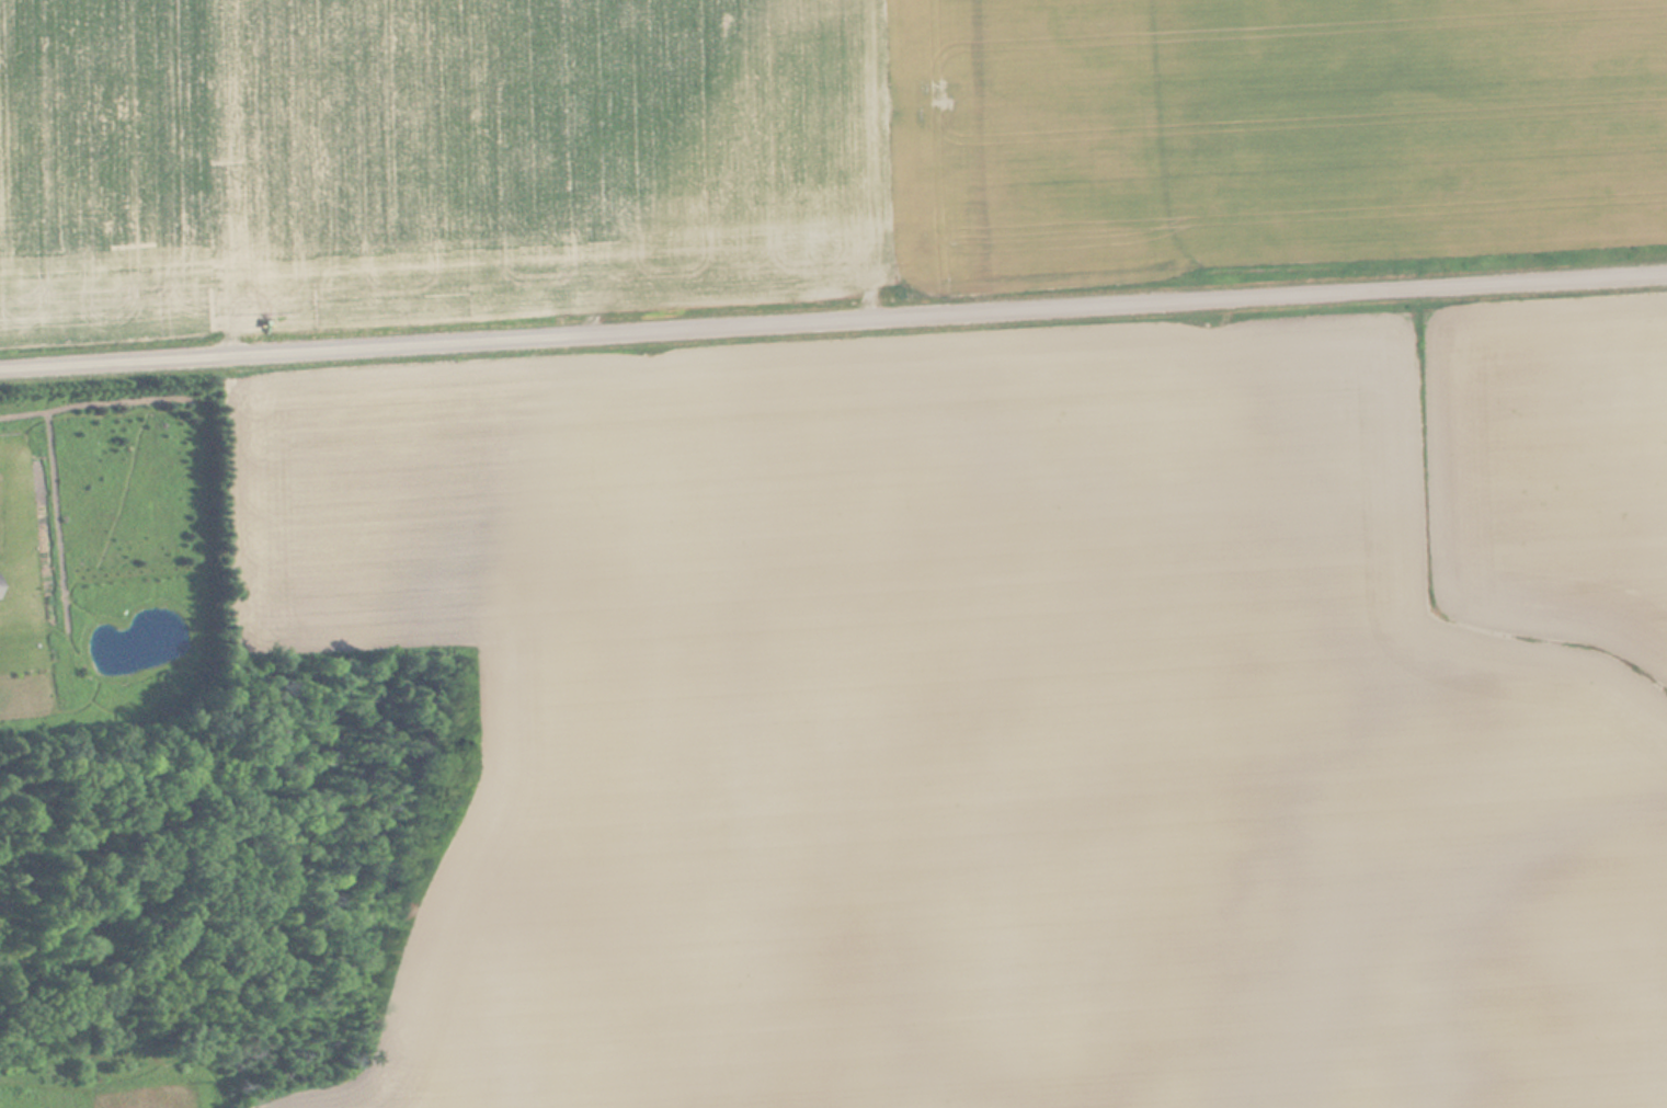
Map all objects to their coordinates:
road: (833, 319)
building: (0, 596)

